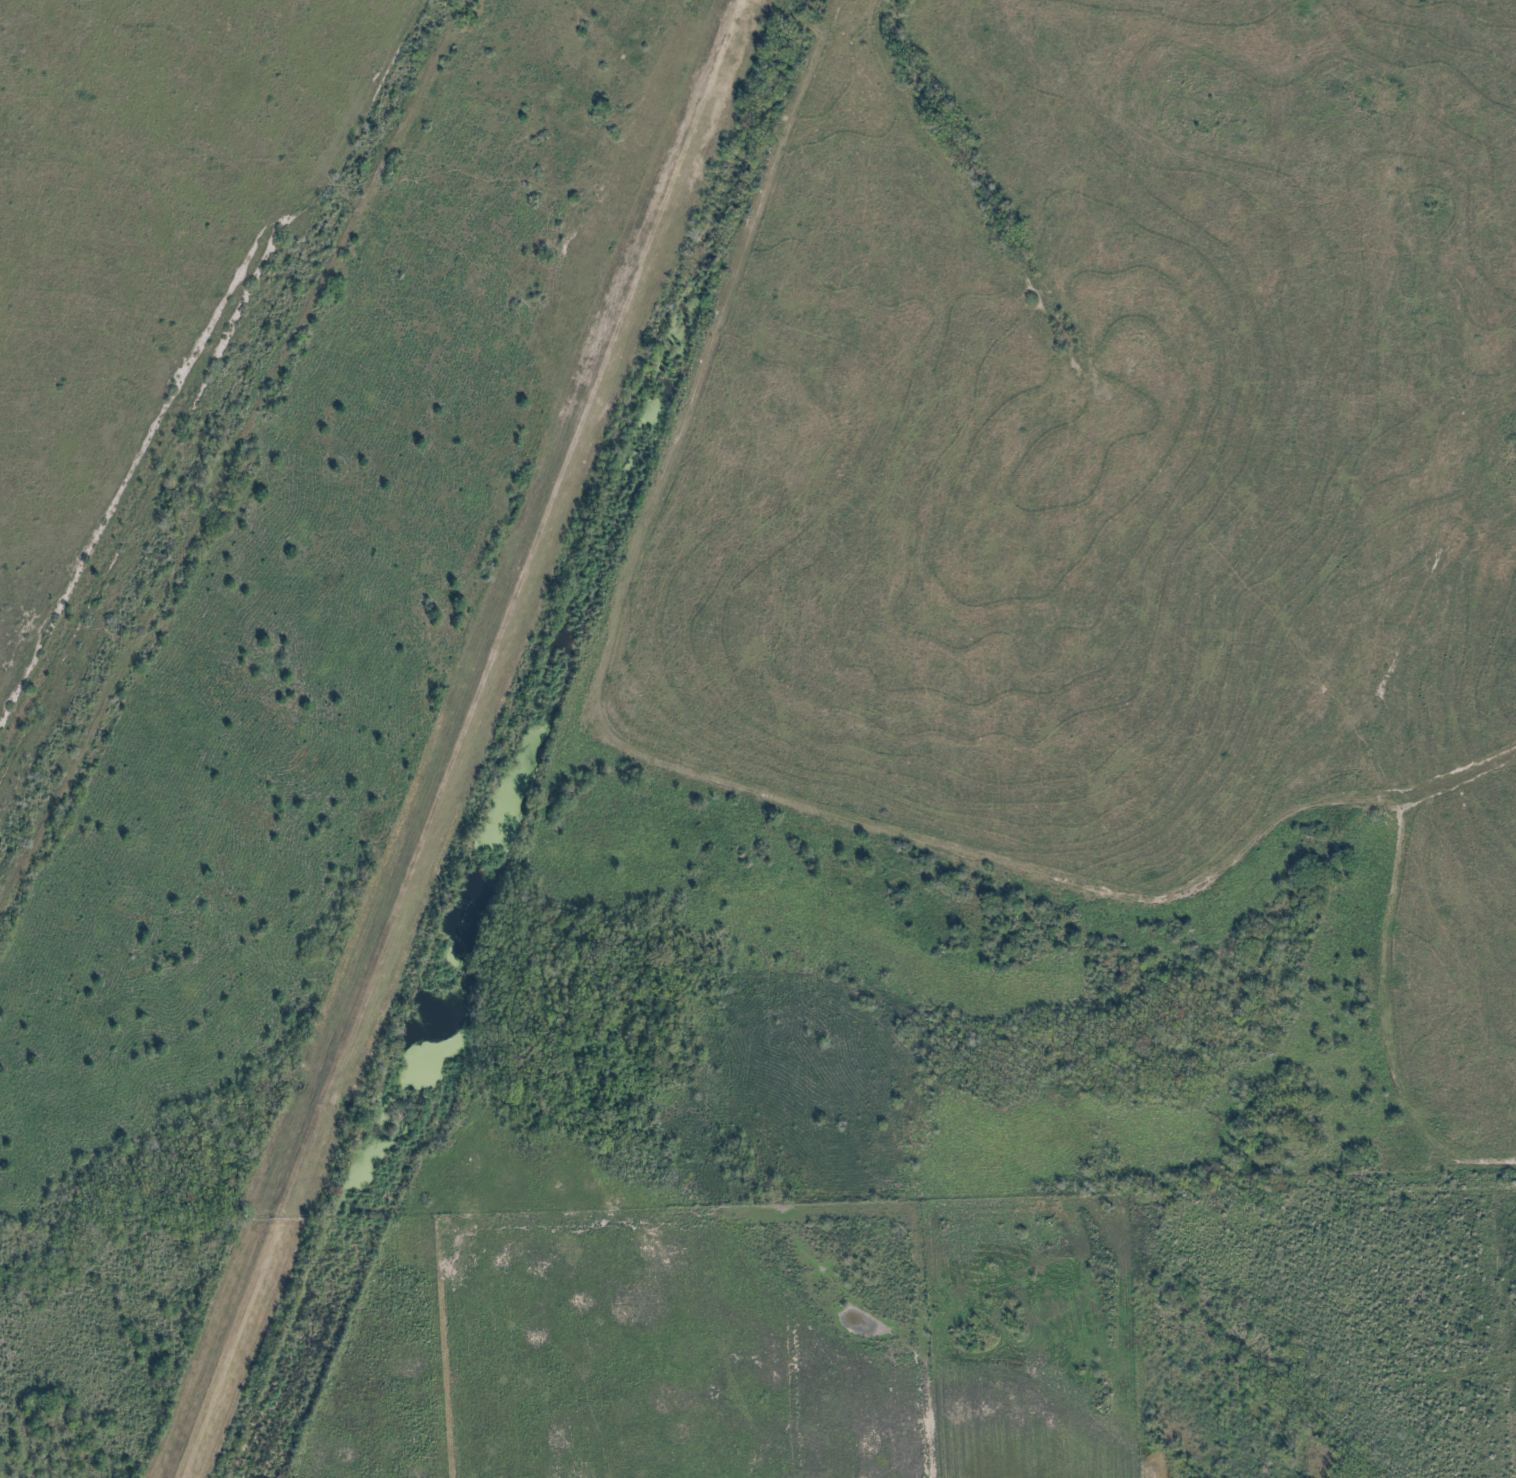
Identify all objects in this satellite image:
railway: (237, 459)

